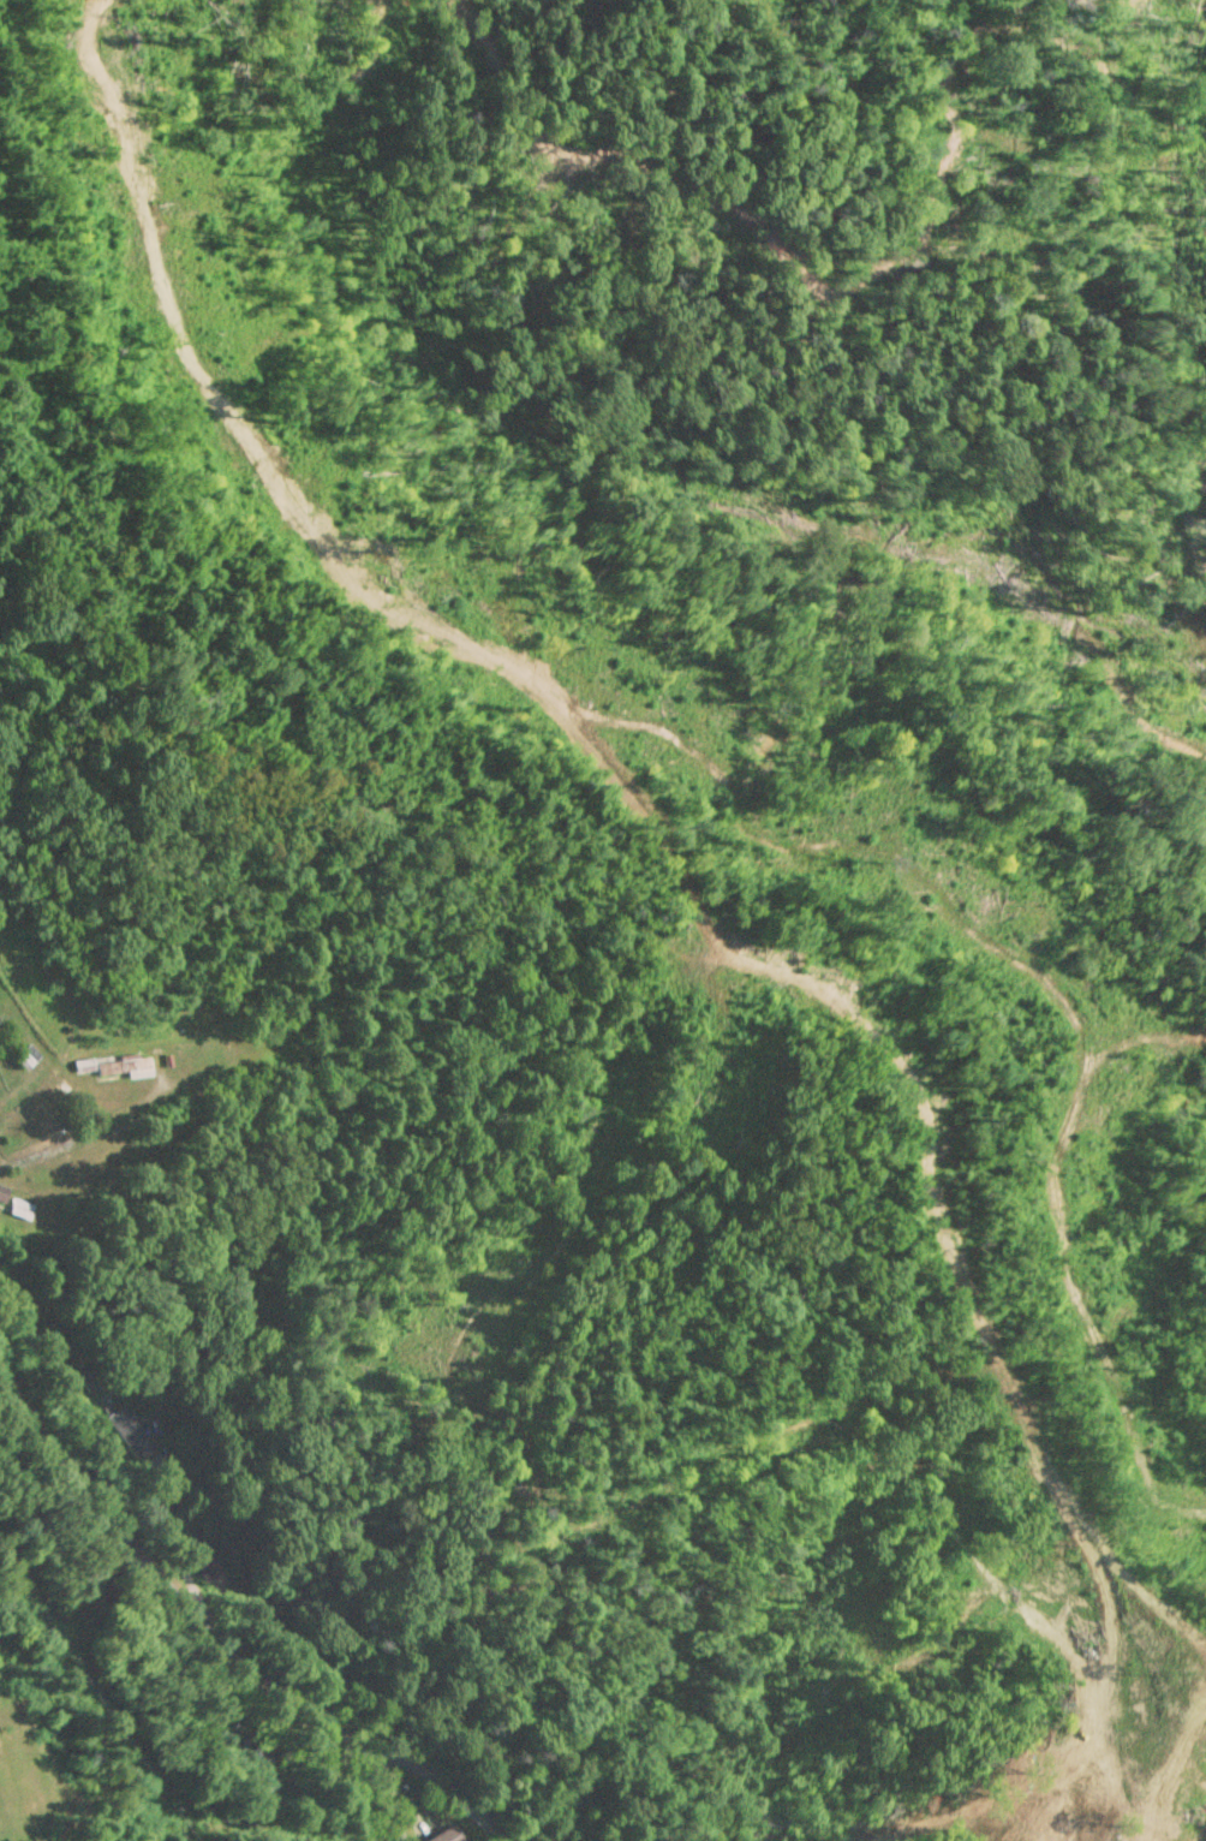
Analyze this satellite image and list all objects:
building: (28, 1055)
building: (84, 1066)
building: (125, 1066)
road: (92, 1131)
building: (2, 1192)
building: (19, 1209)
building: (130, 1432)
building: (205, 1556)
road: (225, 1645)
building: (265, 1770)
building: (444, 1835)

